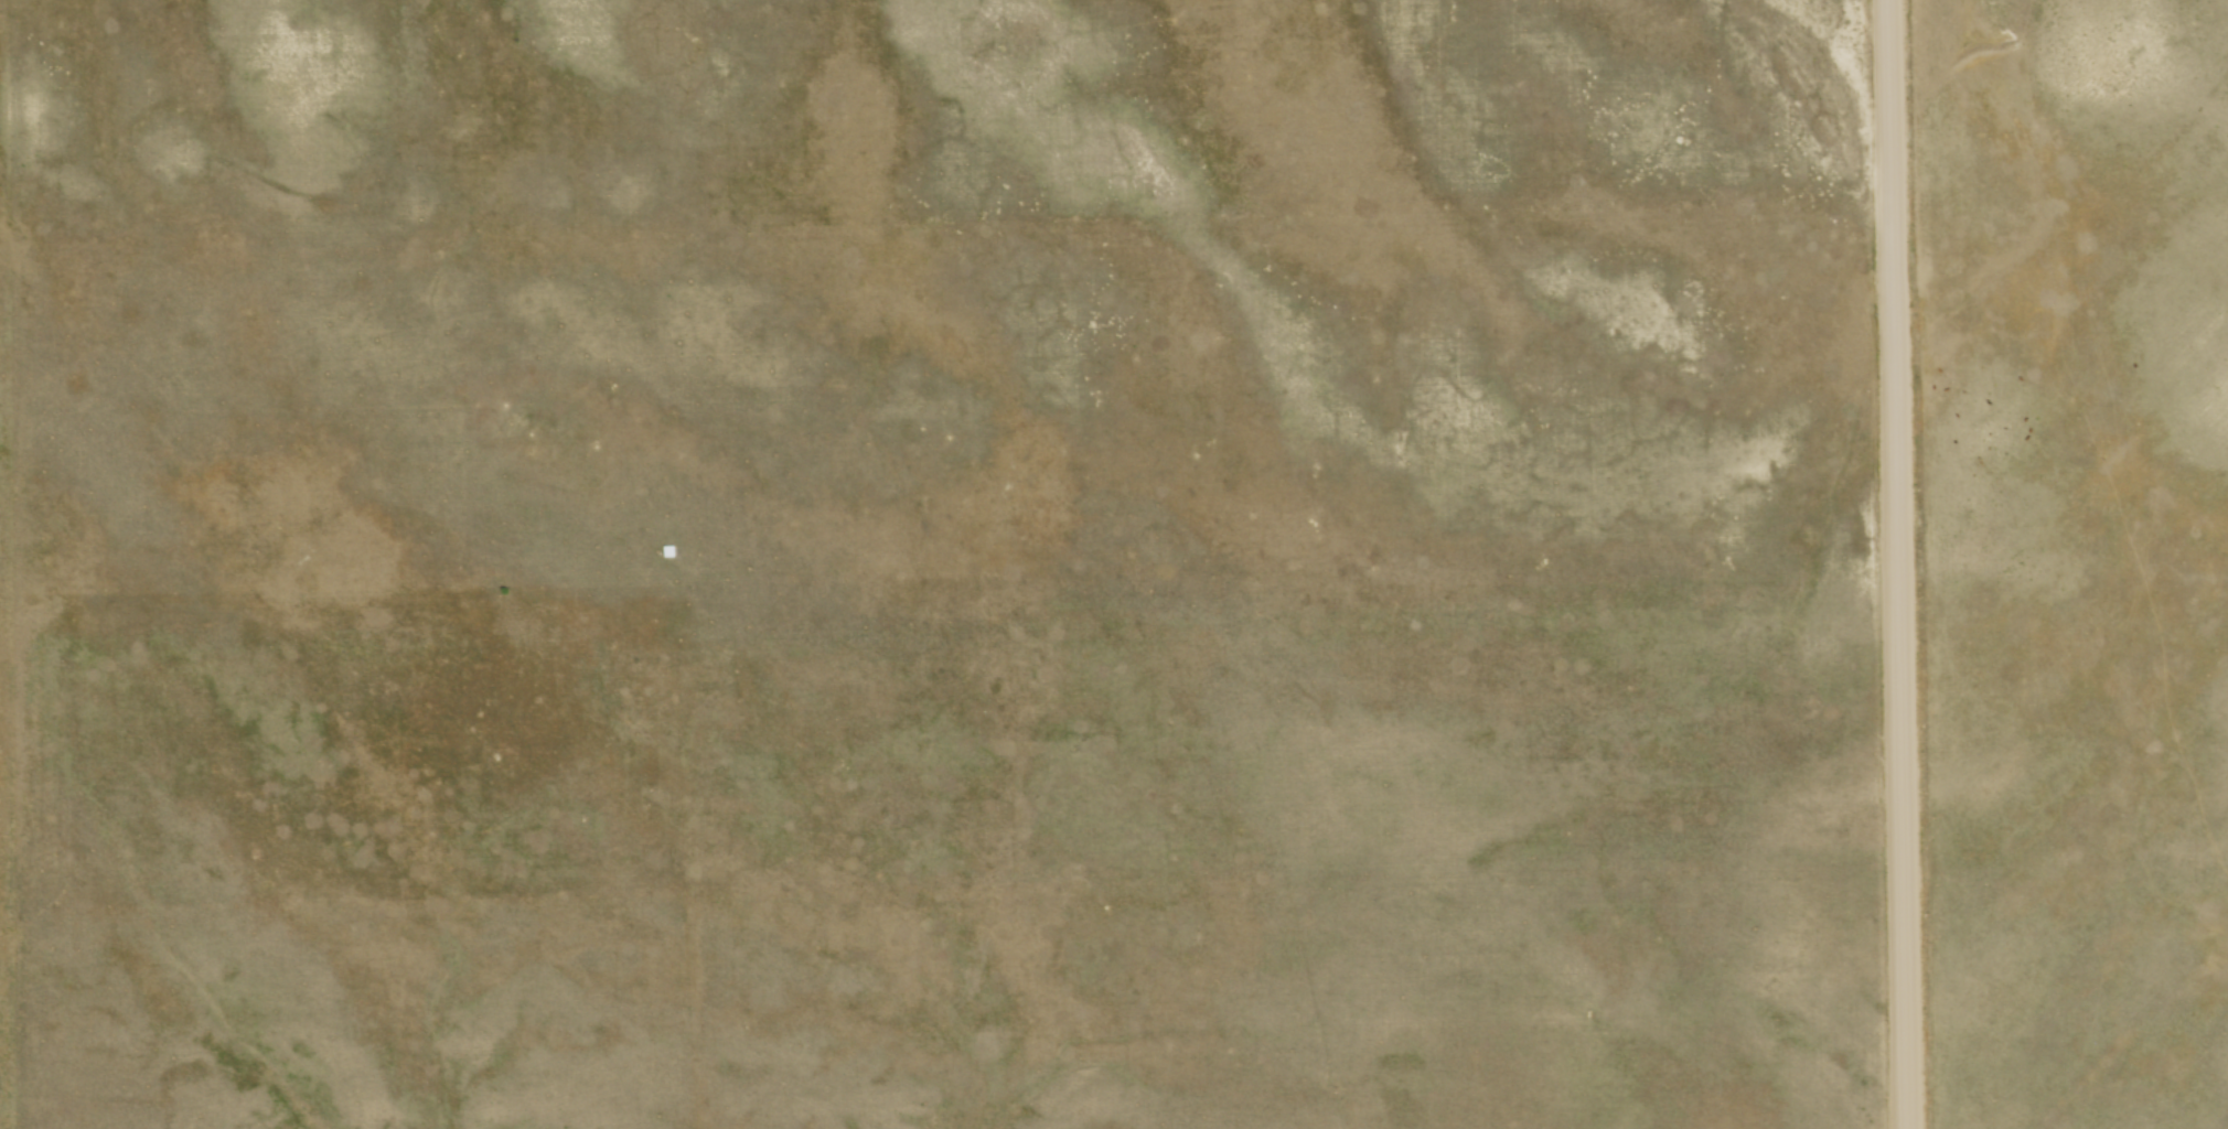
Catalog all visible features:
road: (1899, 564)

